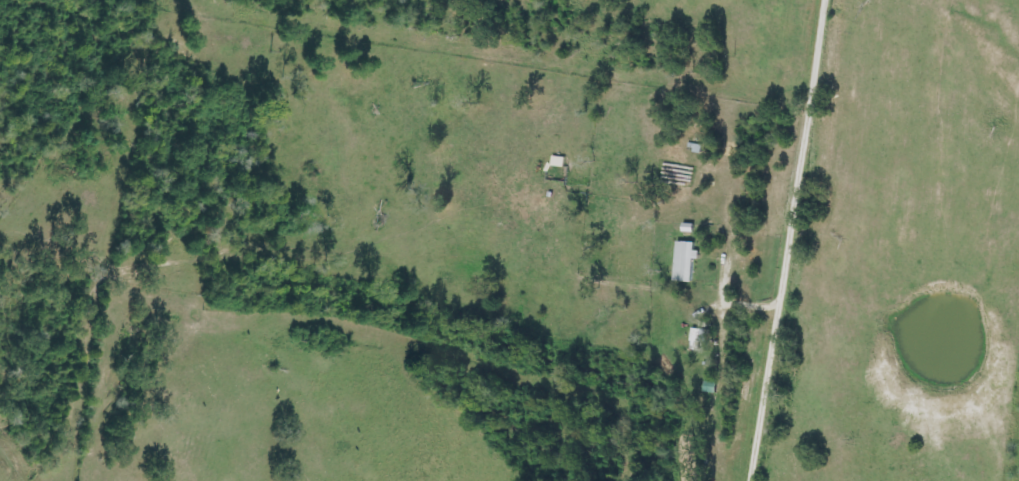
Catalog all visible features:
road: (796, 240)
building: (685, 262)
building: (697, 339)

